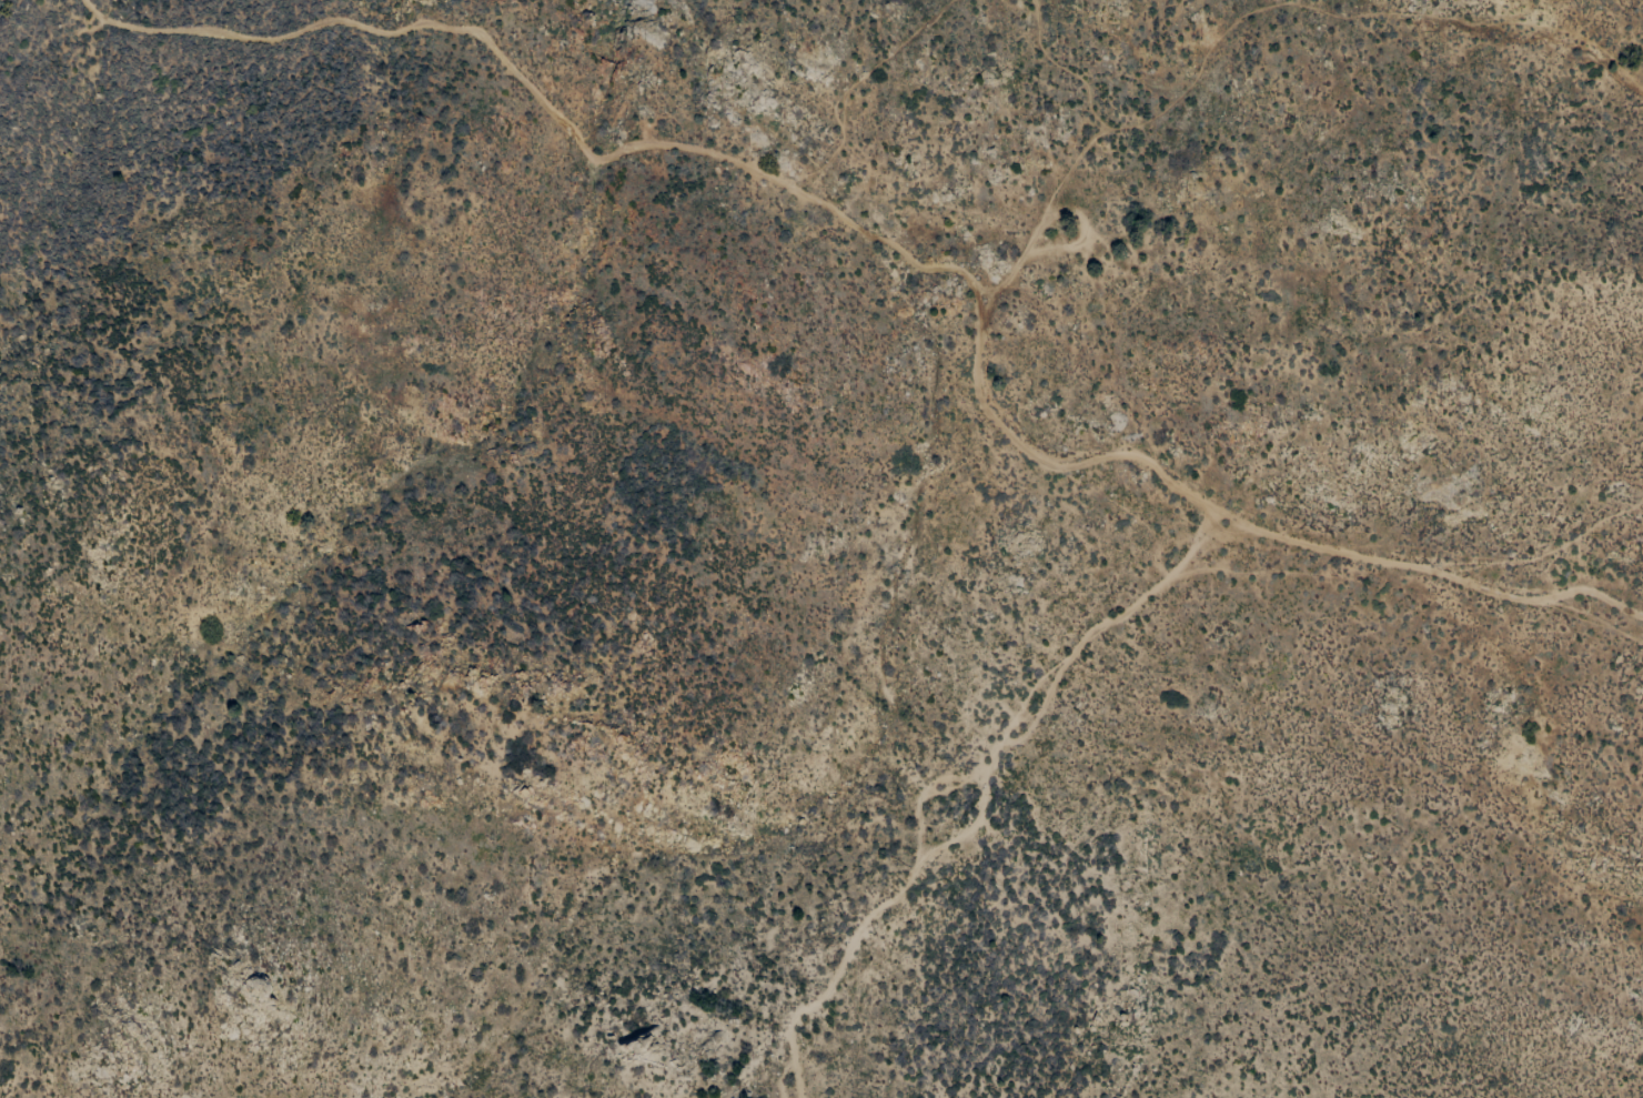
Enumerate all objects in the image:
road: (905, 255)
road: (923, 794)
road: (984, 797)
road: (782, 1076)

